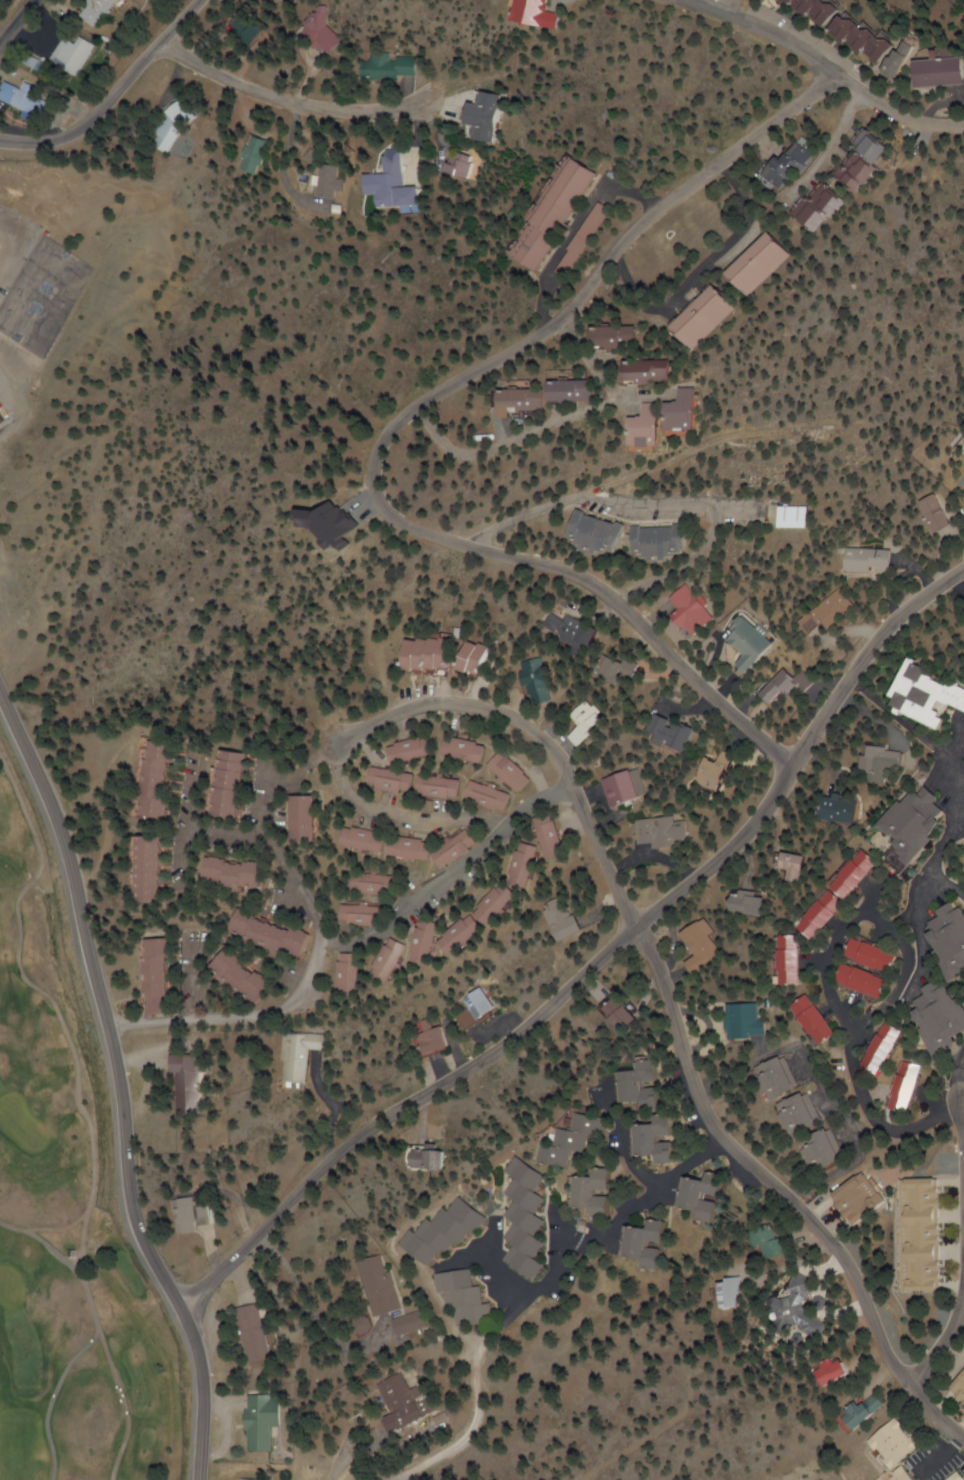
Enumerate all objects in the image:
building: (283, 1)
building: (99, 10)
building: (812, 10)
building: (539, 13)
road: (16, 22)
road: (760, 29)
building: (251, 32)
building: (860, 39)
building: (75, 54)
building: (896, 63)
building: (387, 66)
building: (939, 72)
road: (110, 94)
building: (27, 99)
road: (284, 99)
building: (479, 116)
building: (171, 125)
building: (250, 154)
building: (863, 160)
building: (456, 164)
building: (781, 167)
building: (322, 182)
building: (383, 186)
building: (815, 207)
building: (554, 214)
park: (73, 260)
building: (563, 263)
building: (755, 264)
road: (691, 271)
park: (37, 296)
building: (705, 315)
building: (615, 336)
road: (591, 359)
building: (654, 370)
road: (446, 389)
building: (578, 390)
building: (530, 399)
building: (697, 408)
building: (0, 421)
building: (660, 424)
road: (538, 430)
building: (961, 480)
road: (669, 501)
building: (922, 513)
building: (802, 515)
building: (608, 532)
building: (669, 540)
building: (866, 558)
building: (839, 608)
building: (697, 609)
building: (577, 630)
building: (760, 645)
building: (440, 653)
building: (487, 657)
building: (624, 667)
building: (542, 681)
building: (792, 686)
building: (931, 694)
building: (591, 722)
road: (916, 727)
building: (682, 732)
building: (473, 749)
building: (421, 750)
building: (887, 757)
building: (726, 771)
building: (515, 772)
building: (159, 779)
building: (424, 782)
building: (234, 783)
building: (632, 787)
building: (493, 795)
building: (845, 809)
road: (403, 815)
building: (313, 817)
building: (927, 821)
road: (196, 828)
building: (672, 831)
building: (560, 836)
building: (395, 844)
building: (459, 848)
road: (950, 855)
road: (281, 856)
road: (188, 858)
building: (536, 859)
building: (799, 865)
building: (159, 868)
building: (243, 873)
building: (862, 874)
road: (935, 880)
building: (380, 884)
building: (506, 903)
building: (753, 903)
building: (826, 914)
building: (365, 915)
building: (571, 919)
building: (956, 930)
building: (473, 932)
building: (276, 933)
building: (431, 942)
road: (348, 944)
building: (702, 947)
building: (882, 955)
building: (394, 958)
building: (794, 960)
road: (595, 964)
building: (353, 973)
building: (163, 976)
road: (196, 976)
building: (249, 976)
building: (872, 981)
road: (102, 996)
building: (485, 1005)
road: (849, 1008)
road: (672, 1011)
building: (621, 1014)
building: (948, 1014)
building: (823, 1020)
building: (749, 1022)
building: (438, 1038)
building: (897, 1047)
building: (302, 1057)
building: (786, 1078)
building: (192, 1082)
building: (650, 1085)
building: (914, 1087)
road: (832, 1093)
road: (112, 1096)
road: (961, 1099)
road: (83, 1107)
building: (804, 1114)
road: (876, 1117)
building: (667, 1138)
building: (576, 1140)
road: (629, 1142)
building: (827, 1152)
building: (437, 1160)
building: (602, 1192)
building: (714, 1196)
building: (867, 1198)
building: (197, 1212)
building: (531, 1217)
park: (65, 1219)
road: (45, 1229)
building: (449, 1231)
building: (927, 1235)
building: (651, 1243)
building: (774, 1244)
road: (56, 1252)
building: (381, 1286)
road: (538, 1290)
building: (734, 1293)
building: (470, 1298)
building: (805, 1301)
building: (413, 1323)
building: (253, 1333)
road: (940, 1351)
building: (843, 1371)
building: (961, 1389)
road: (205, 1396)
road: (53, 1399)
building: (401, 1403)
building: (871, 1412)
building: (263, 1421)
building: (900, 1444)
building: (906, 1475)
building: (959, 1477)
building: (243, 1479)
building: (827, 1479)

